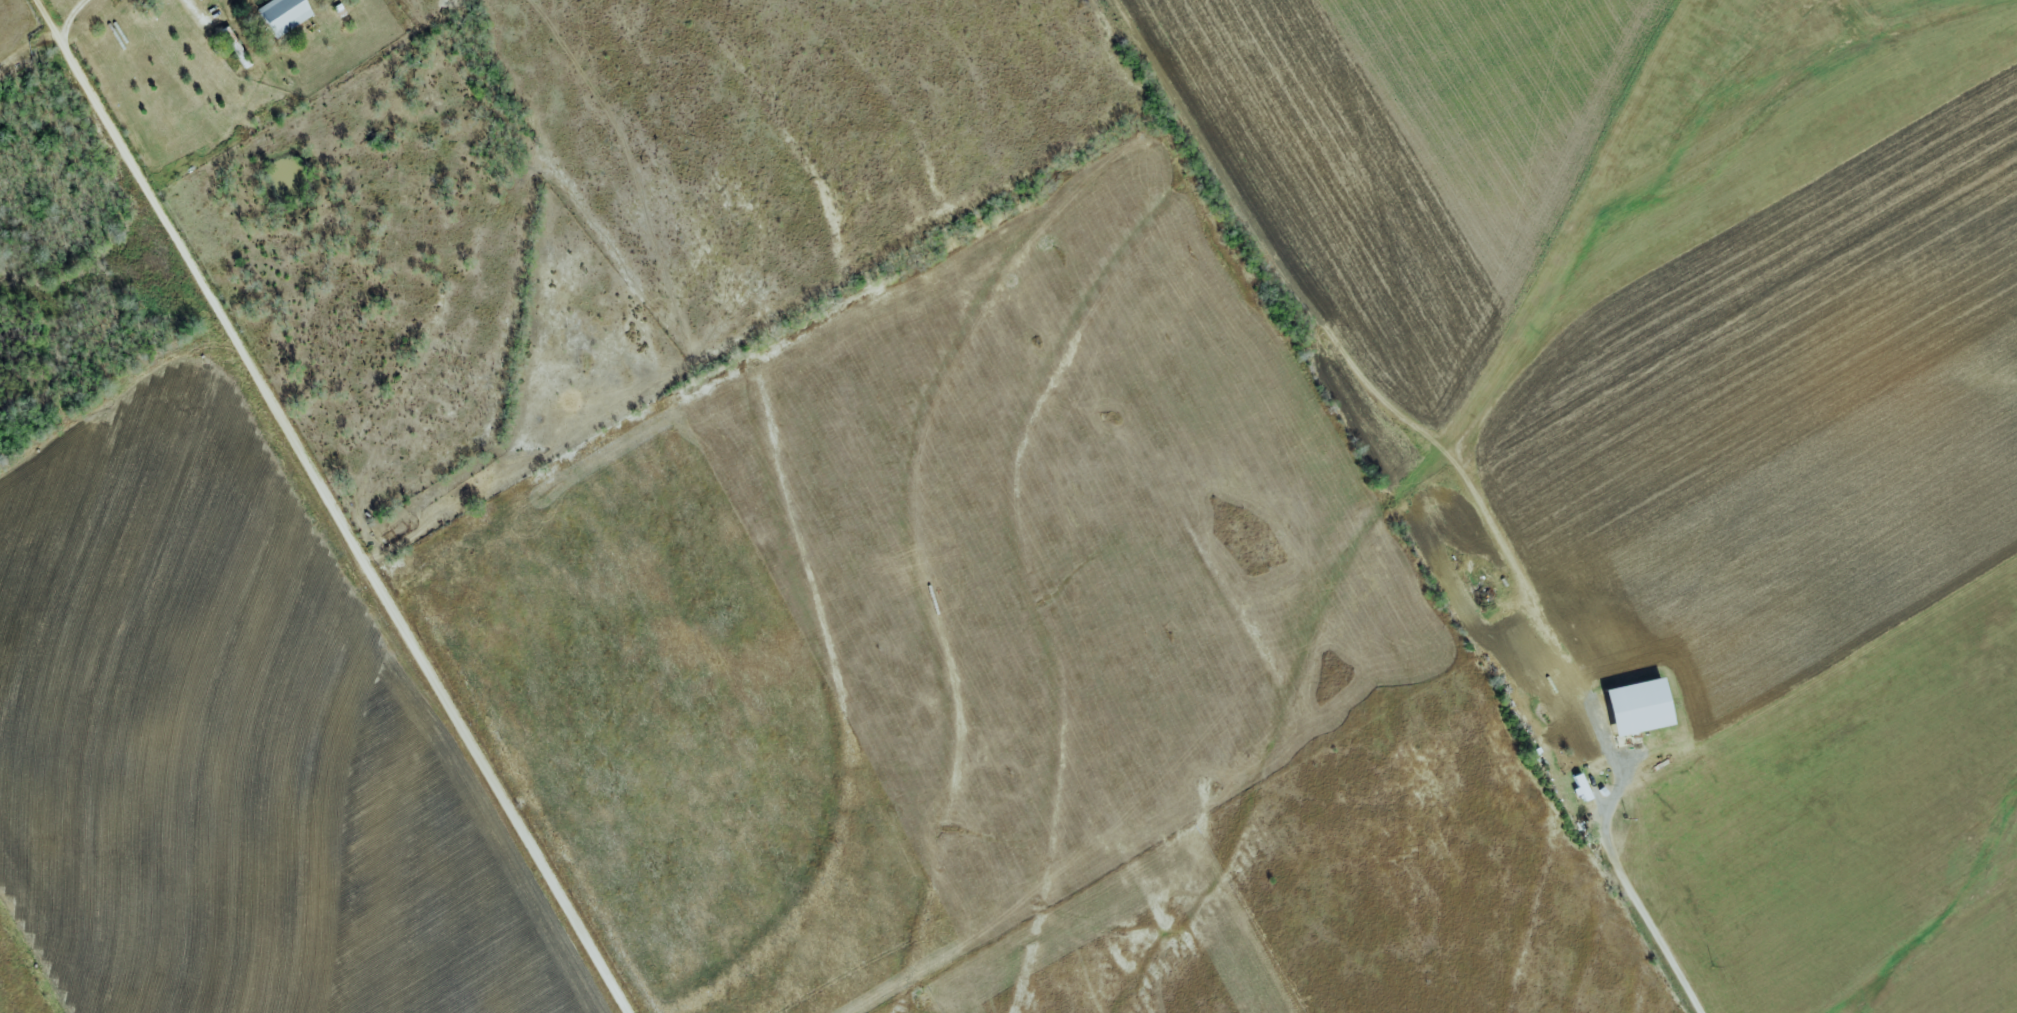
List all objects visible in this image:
road: (190, 4)
road: (70, 14)
building: (283, 15)
building: (235, 48)
road: (338, 506)
building: (1638, 707)
building: (1580, 788)
road: (1628, 890)

